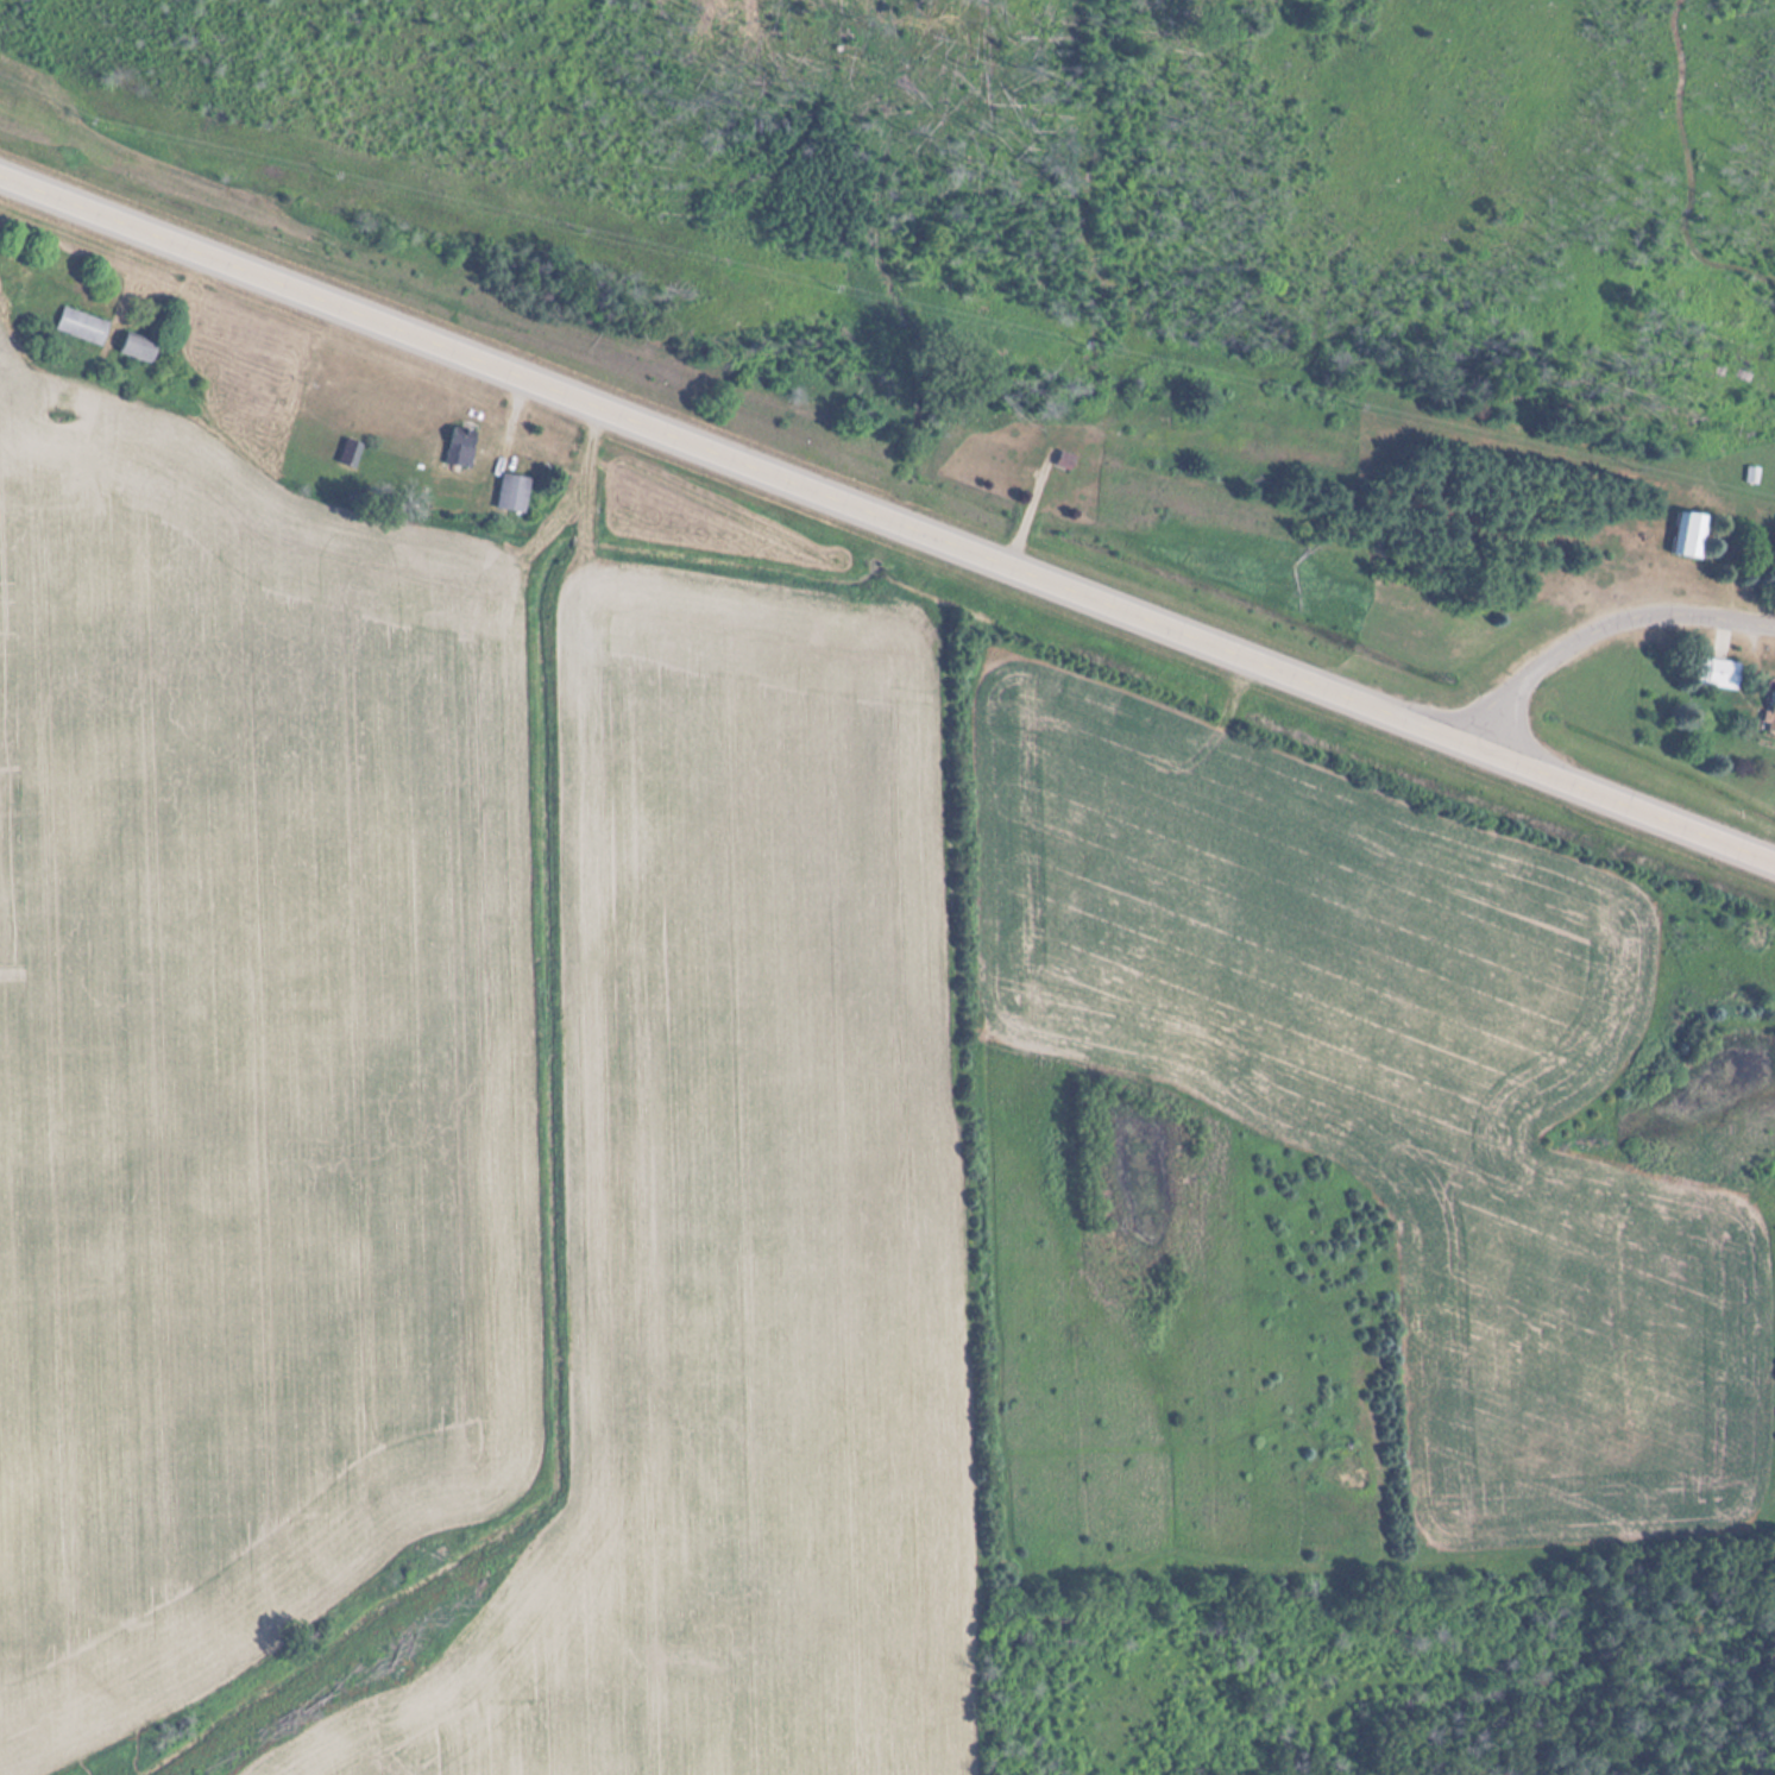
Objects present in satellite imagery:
building: (83, 326)
building: (137, 347)
building: (459, 448)
building: (350, 454)
building: (1064, 460)
building: (512, 493)
road: (887, 516)
building: (1687, 536)
road: (1599, 627)
building: (1717, 673)
building: (1768, 710)

